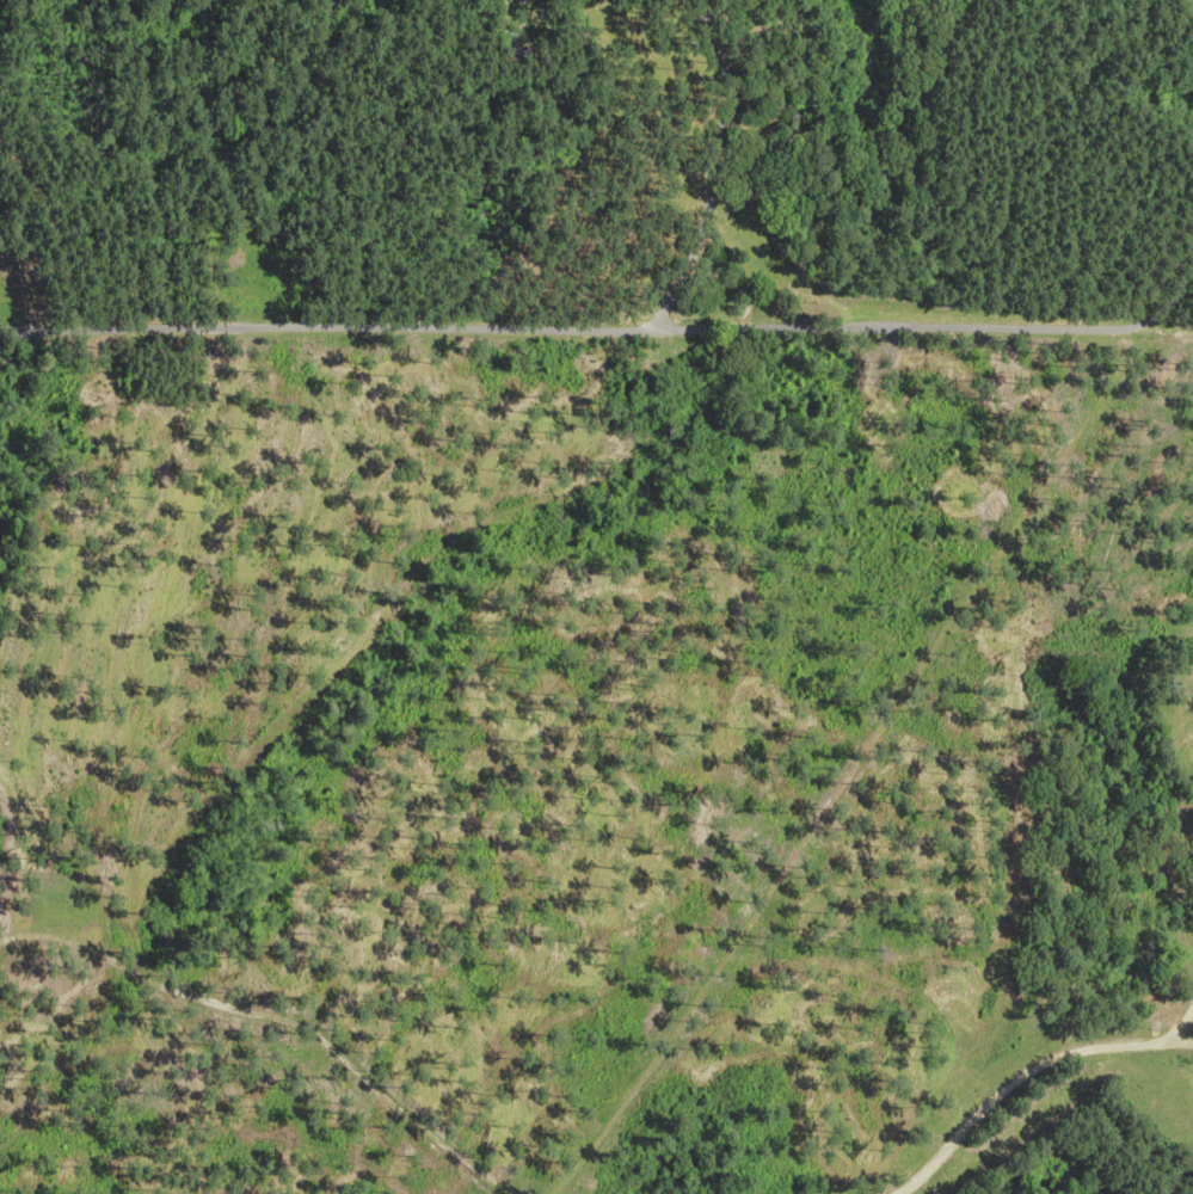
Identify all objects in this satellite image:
road: (707, 164)
road: (611, 330)
road: (1032, 1070)

